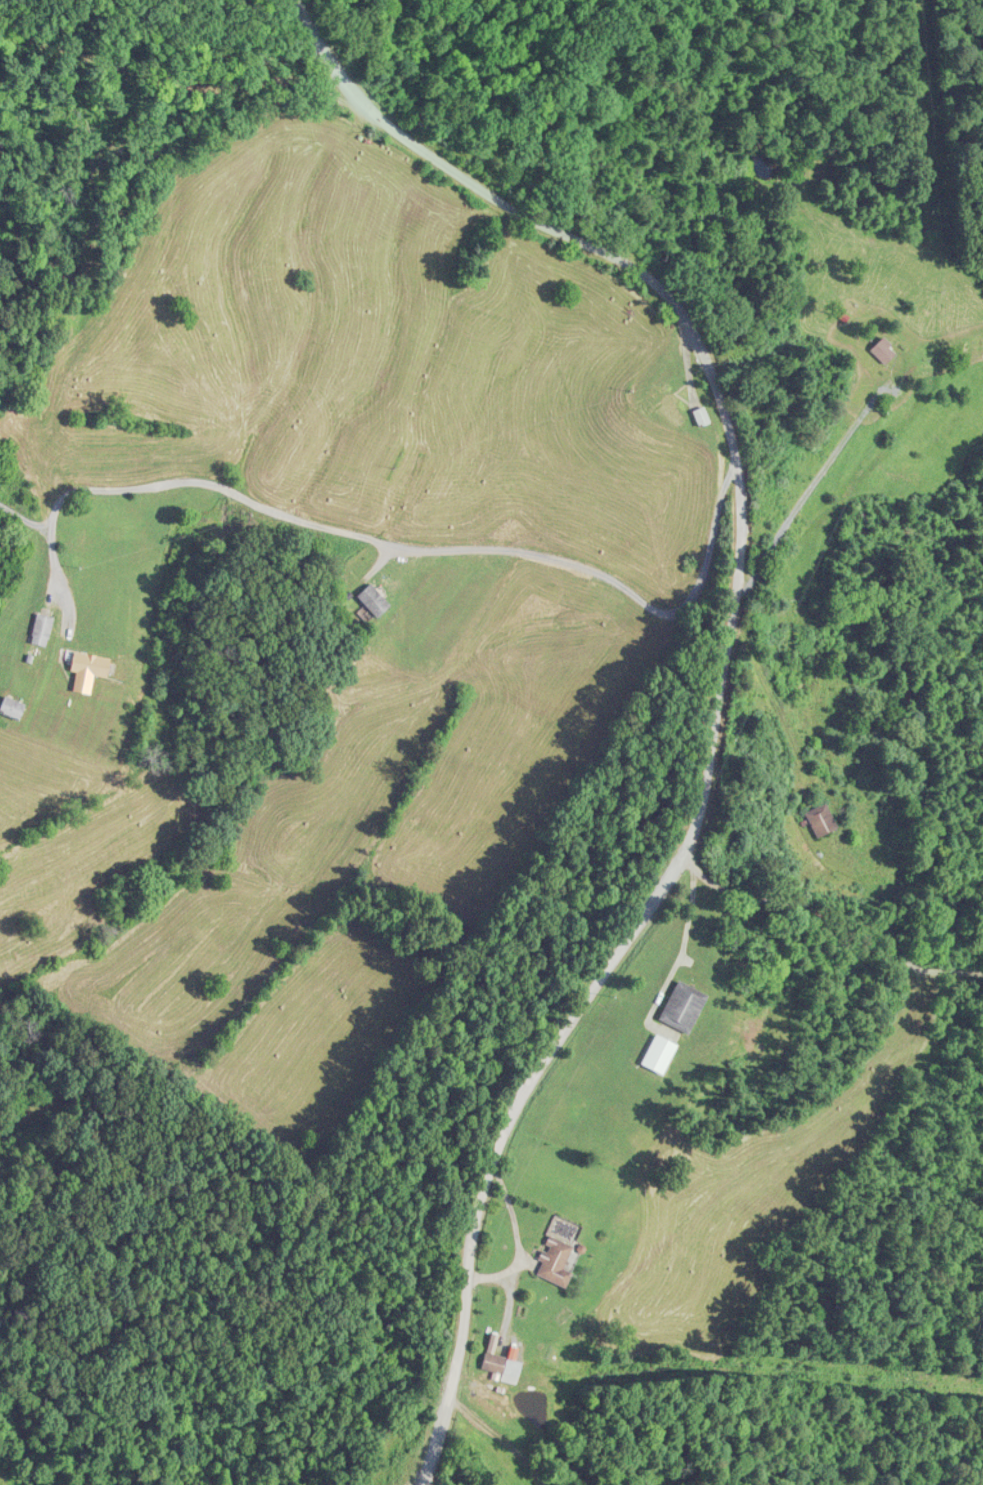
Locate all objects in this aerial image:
road: (384, 115)
building: (885, 349)
building: (704, 415)
road: (741, 473)
road: (336, 530)
building: (373, 598)
building: (41, 627)
building: (89, 667)
building: (823, 817)
road: (613, 969)
building: (684, 1004)
road: (505, 1150)
building: (558, 1249)
building: (502, 1363)
road: (489, 1444)

